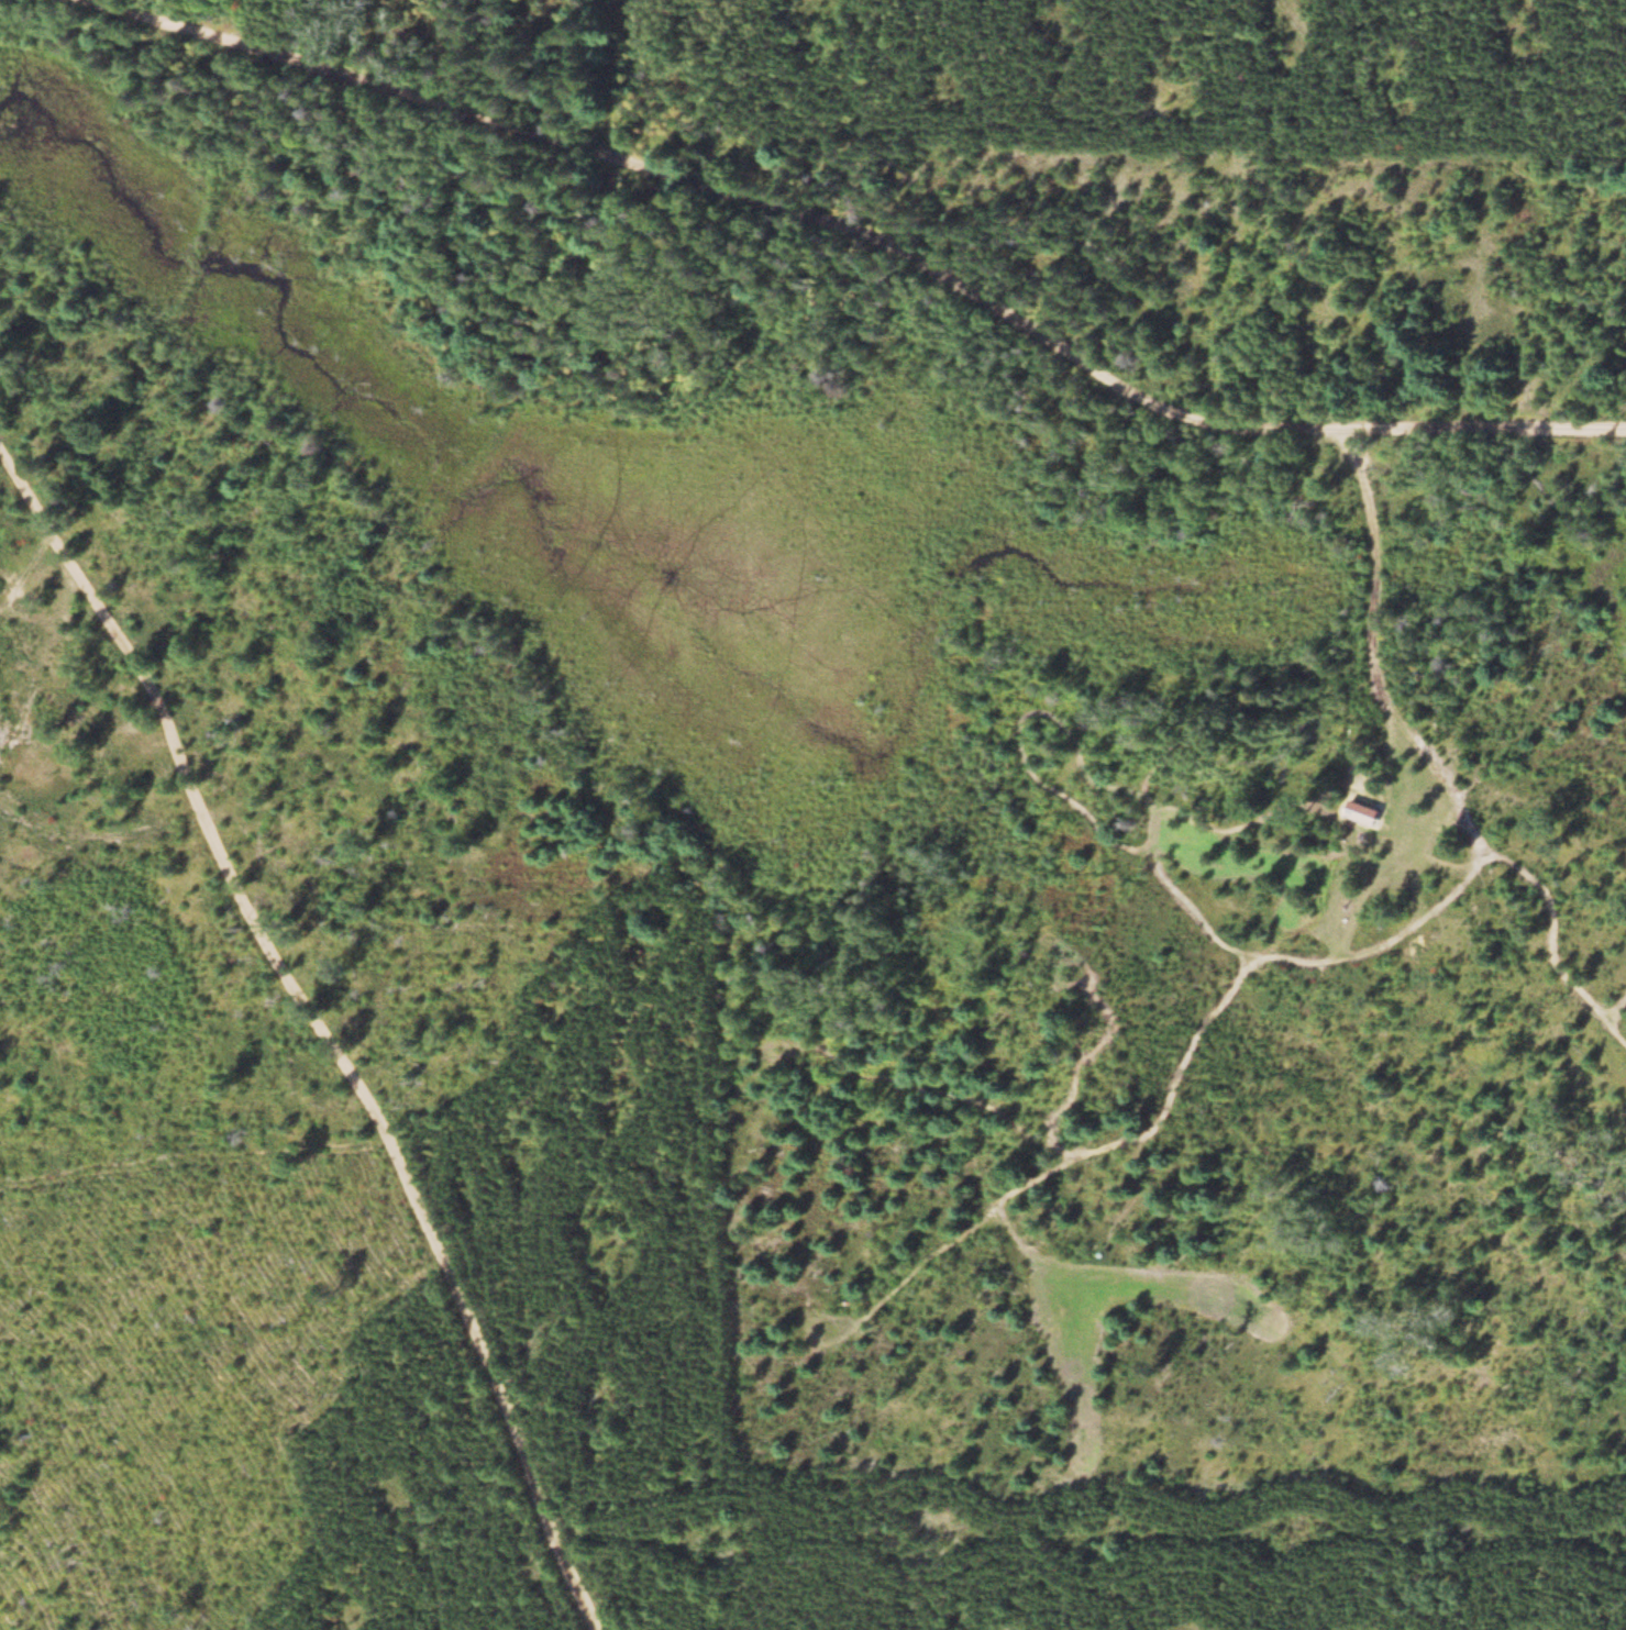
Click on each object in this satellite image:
road: (876, 234)
road: (321, 1020)

